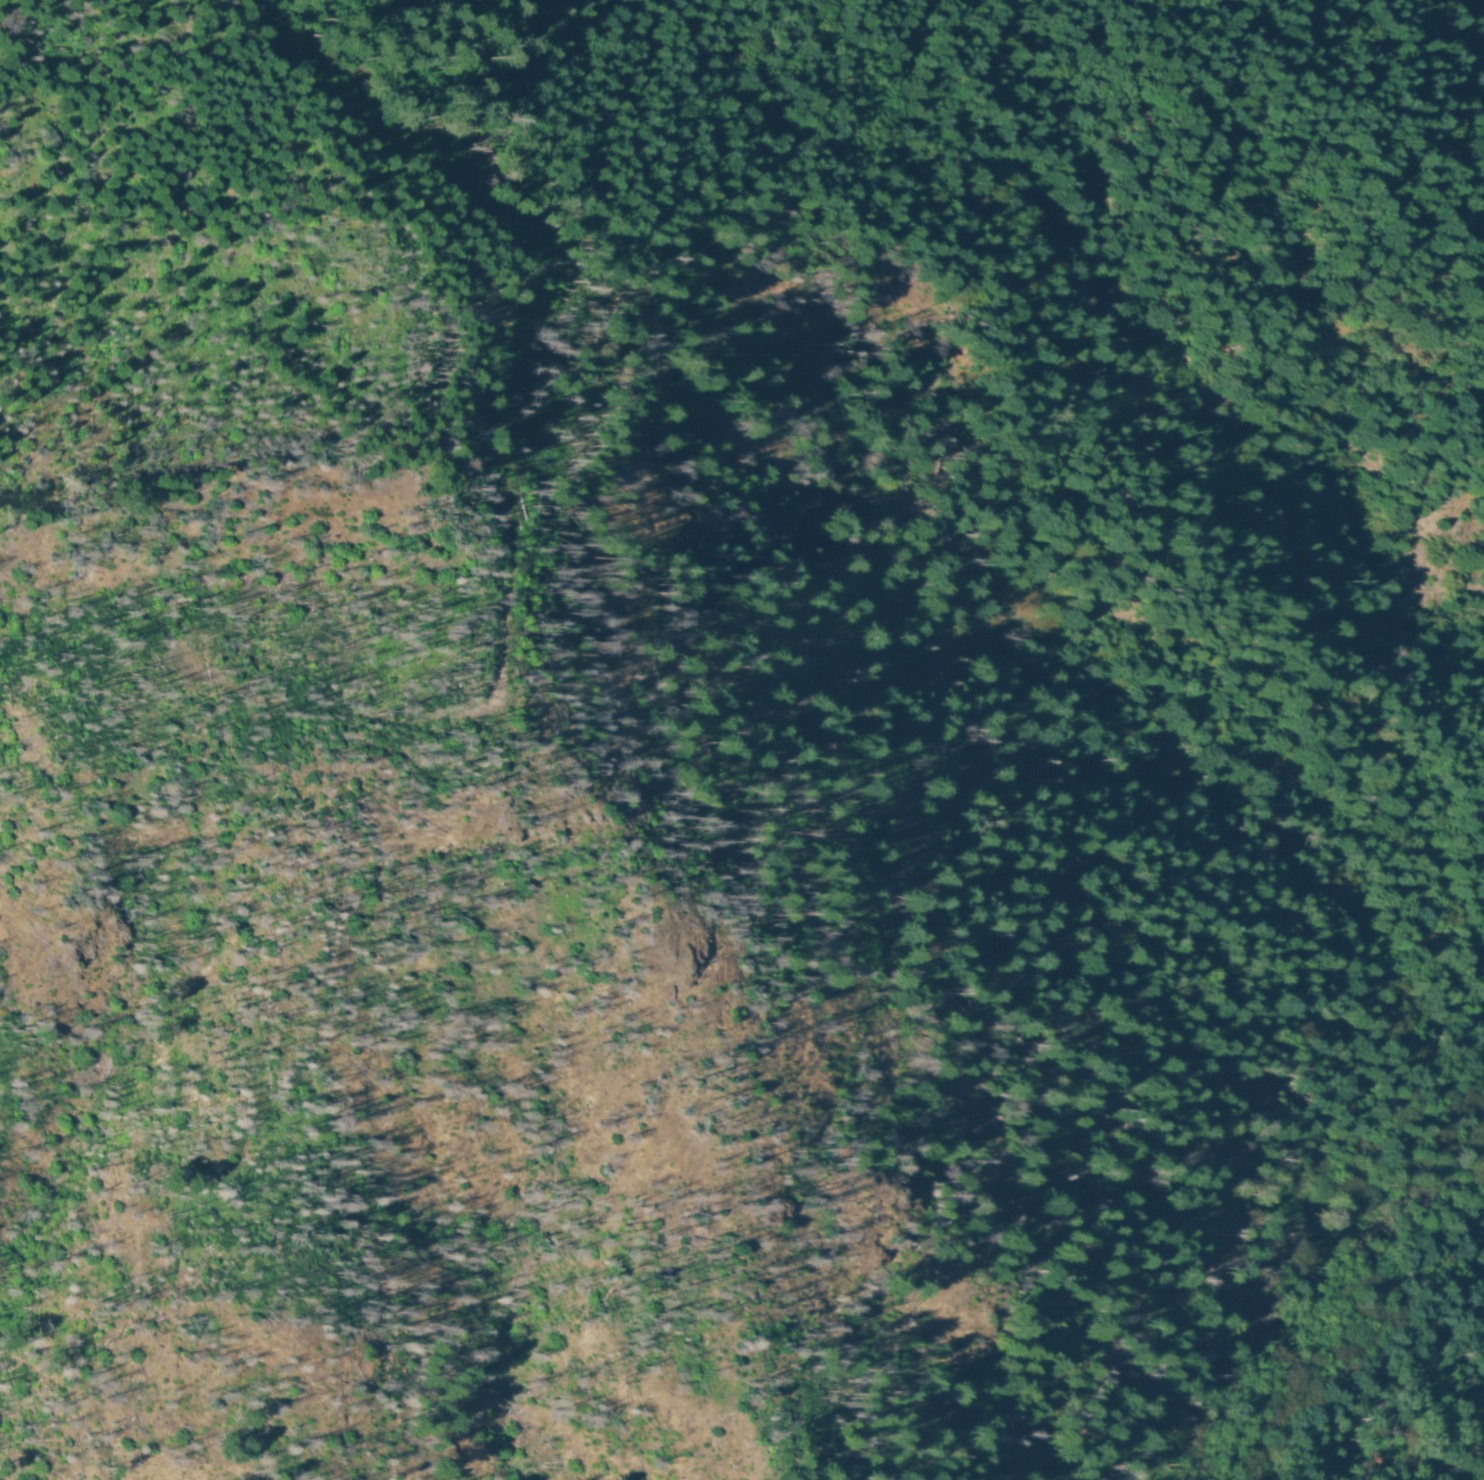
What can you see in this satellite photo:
road: (1375, 1391)

